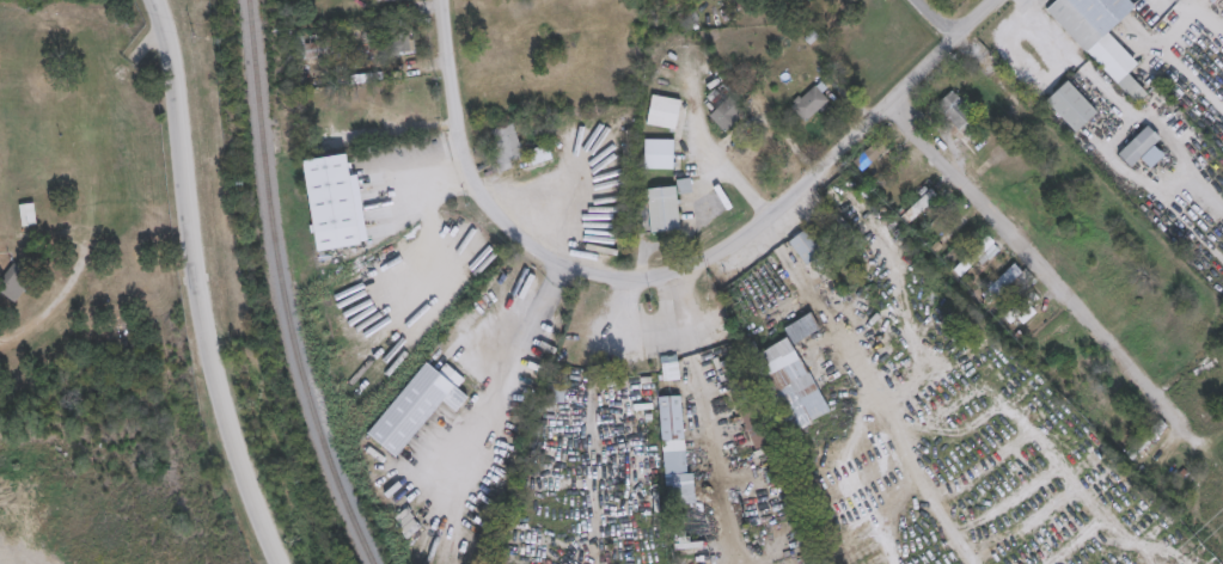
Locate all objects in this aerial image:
building: (393, 0)
road: (1029, 2)
road: (1181, 11)
road: (936, 19)
road: (1207, 27)
building: (1101, 37)
building: (399, 43)
road: (1066, 56)
road: (1190, 65)
building: (811, 102)
building: (1070, 105)
building: (664, 111)
building: (726, 114)
building: (958, 115)
road: (1179, 137)
building: (508, 143)
building: (1142, 148)
building: (659, 152)
road: (713, 152)
building: (539, 153)
building: (870, 154)
road: (831, 158)
road: (435, 171)
road: (1151, 182)
road: (476, 191)
building: (332, 202)
building: (918, 206)
building: (662, 208)
building: (27, 214)
building: (805, 246)
building: (977, 255)
road: (1038, 269)
building: (1010, 280)
building: (14, 281)
road: (196, 287)
railway: (281, 288)
road: (813, 301)
building: (669, 366)
building: (734, 370)
road: (507, 373)
building: (791, 375)
road: (699, 403)
building: (417, 405)
road: (1034, 423)
building: (752, 425)
building: (1146, 439)
building: (675, 449)
road: (978, 452)
road: (856, 472)
road: (919, 472)
road: (750, 548)
road: (727, 550)
road: (1135, 560)

